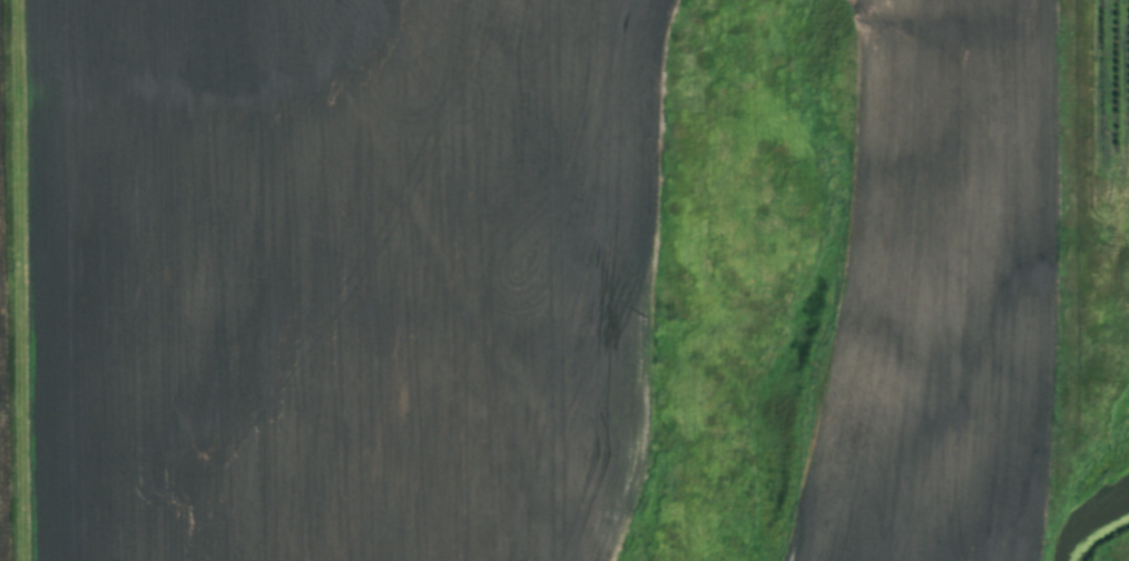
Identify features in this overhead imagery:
river: (1090, 523)

